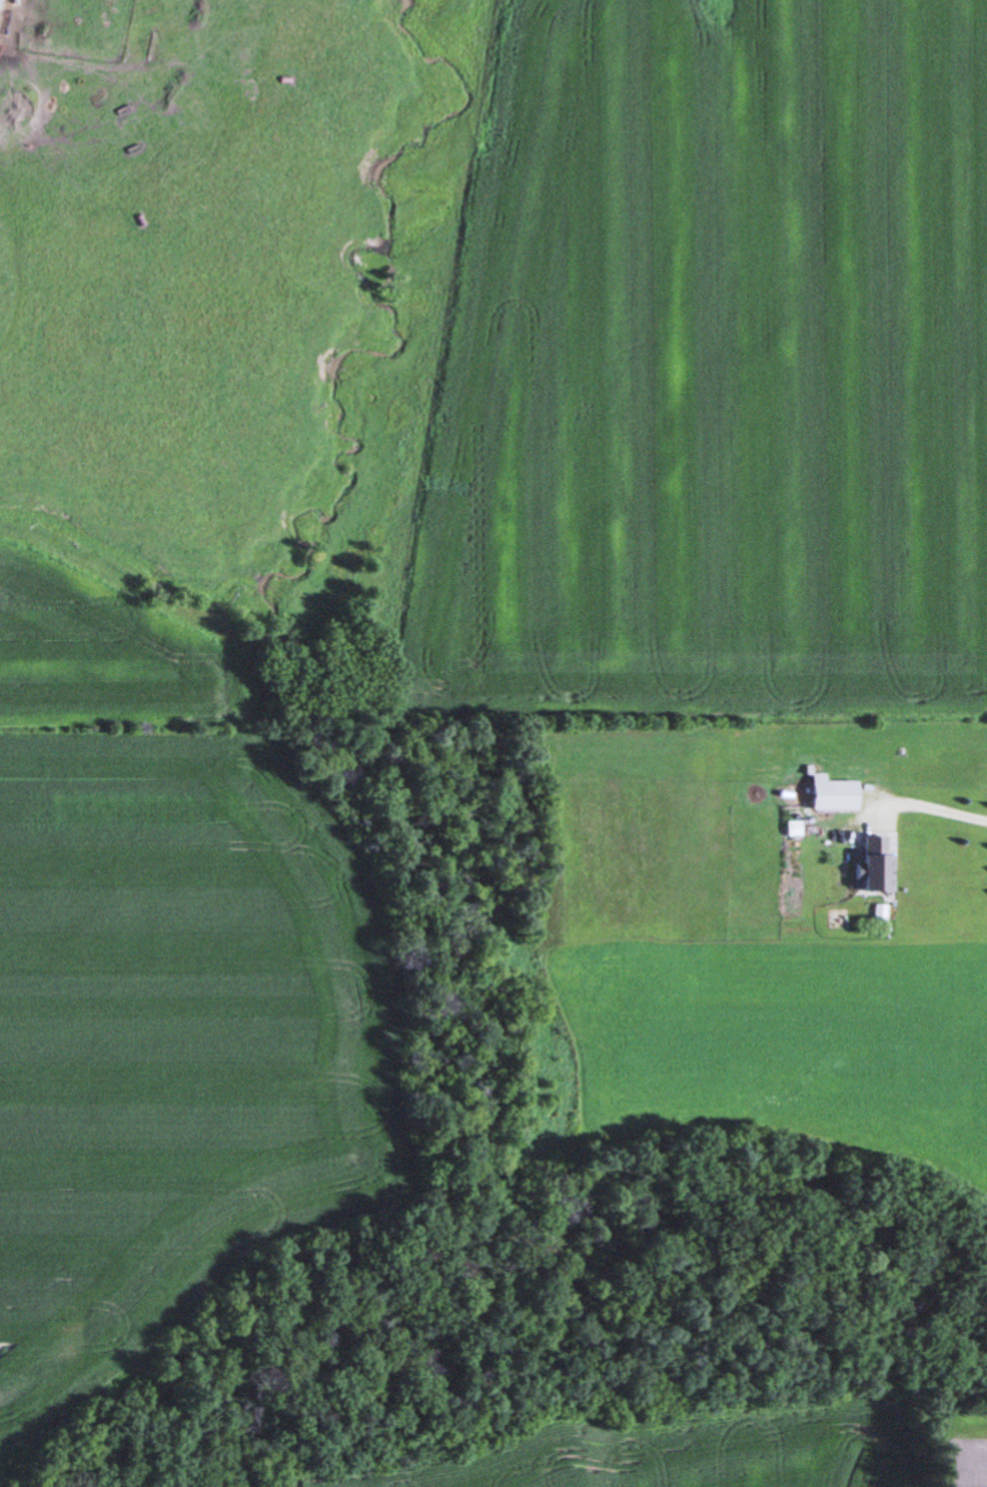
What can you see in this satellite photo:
building: (827, 794)
road: (929, 802)
building: (867, 865)

